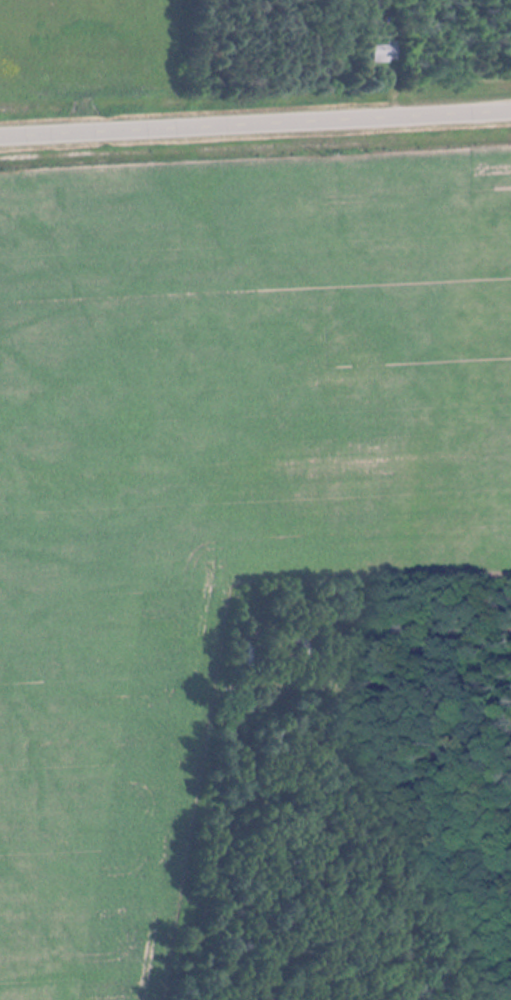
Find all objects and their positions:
building: (384, 52)
road: (255, 116)

